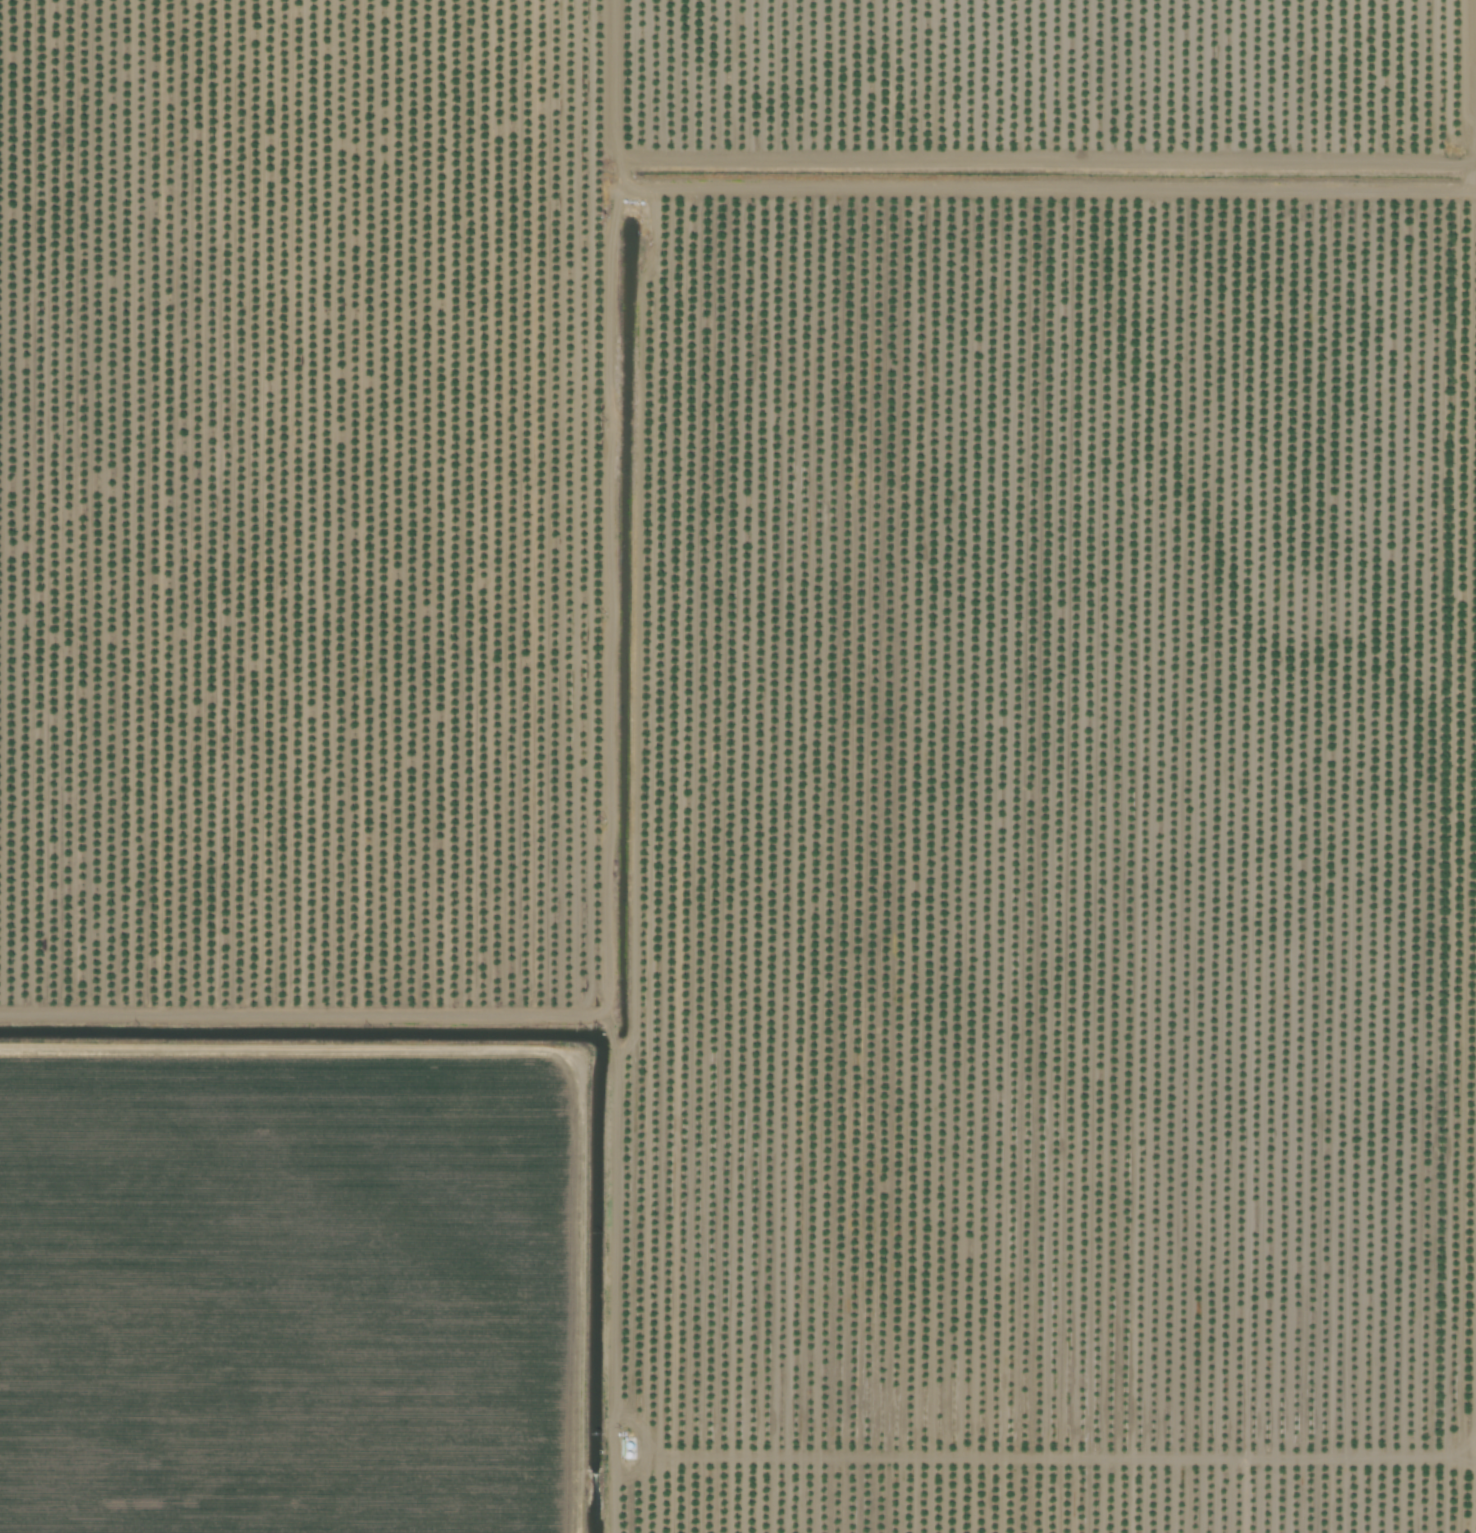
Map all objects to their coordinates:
road: (606, 478)
road: (1470, 766)
road: (1043, 1456)

